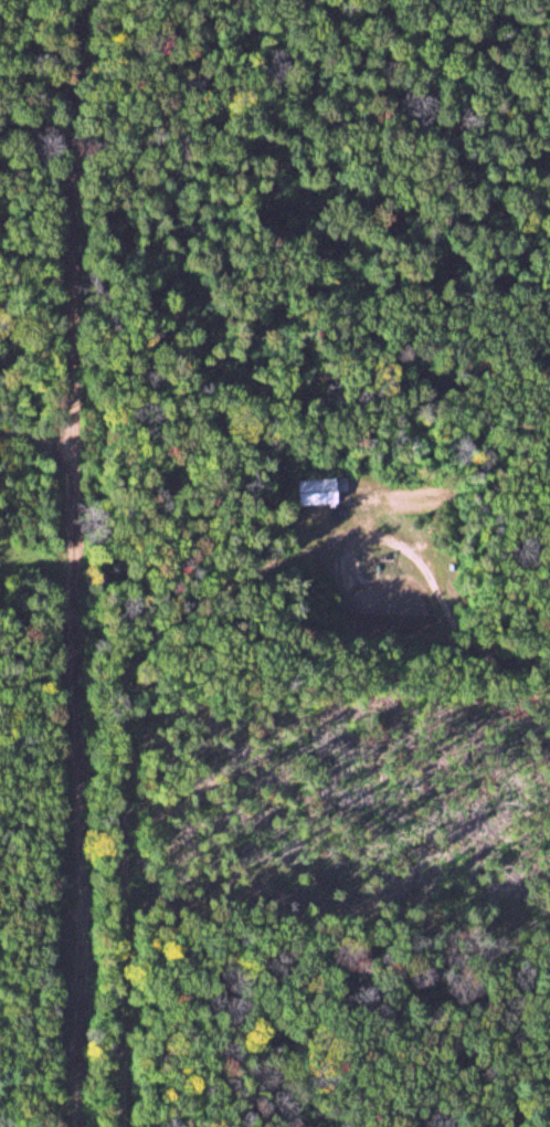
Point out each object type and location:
building: (315, 491)
road: (86, 563)

